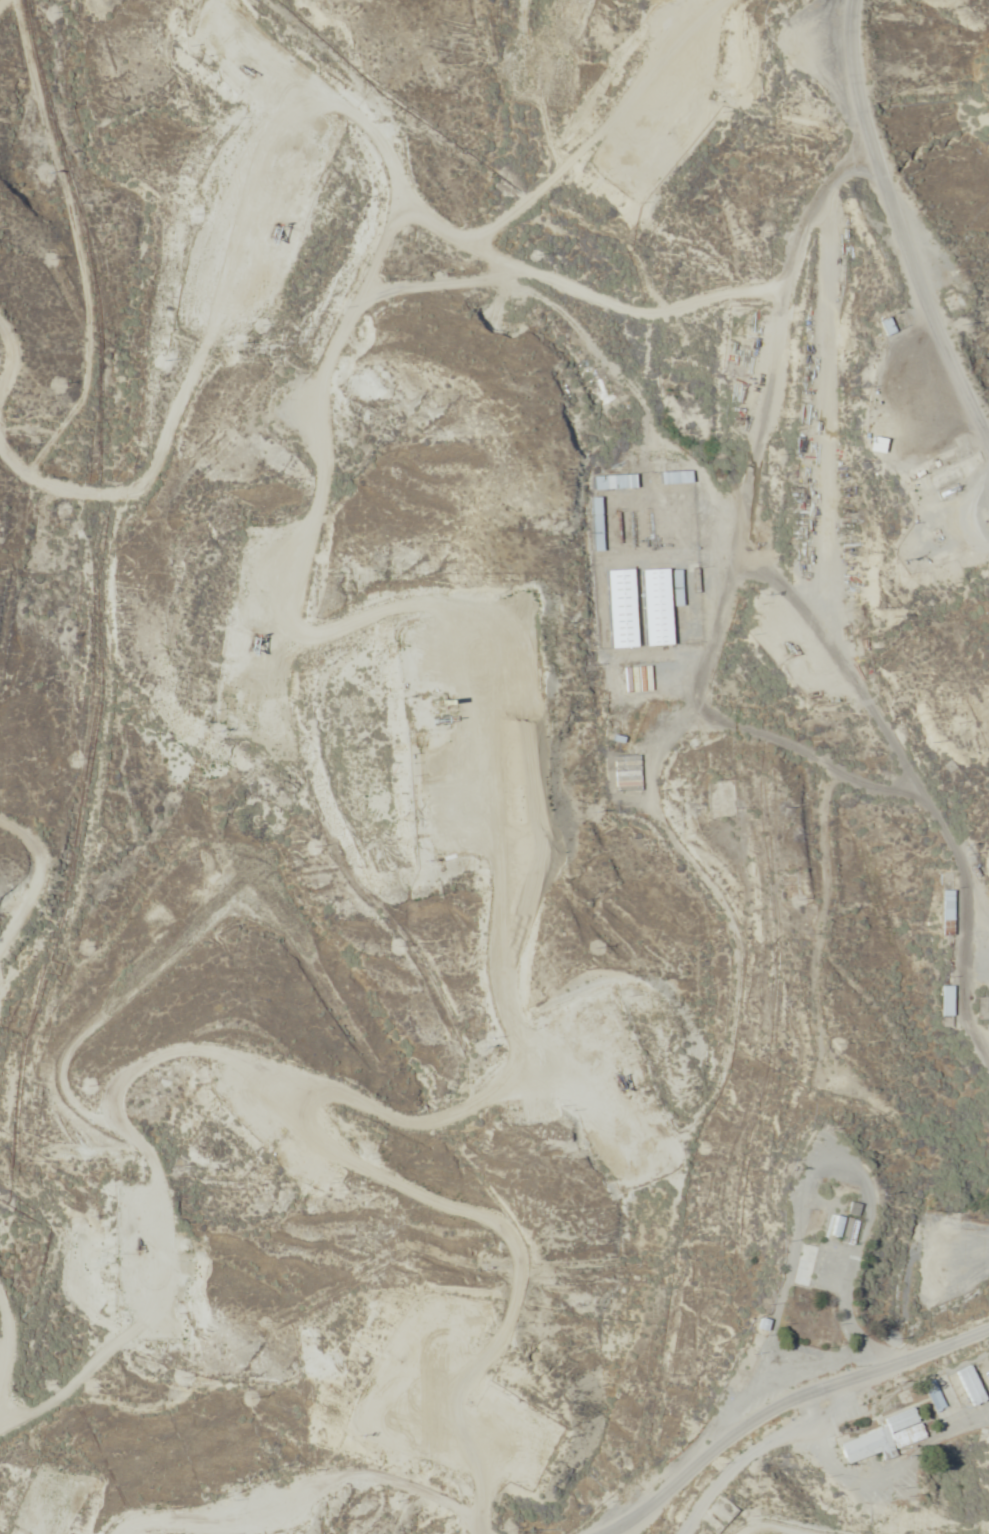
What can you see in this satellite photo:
road: (637, 154)
road: (899, 221)
building: (944, 280)
road: (296, 284)
building: (880, 326)
building: (869, 444)
building: (670, 477)
building: (611, 482)
building: (650, 607)
building: (616, 609)
road: (876, 669)
building: (626, 773)
building: (941, 913)
road: (11, 916)
building: (943, 1001)
road: (449, 1094)
building: (832, 1190)
building: (810, 1227)
building: (801, 1266)
road: (462, 1330)
building: (739, 1372)
building: (968, 1386)
building: (949, 1391)
building: (935, 1400)
road: (784, 1408)
building: (882, 1438)
road: (1, 1478)
road: (699, 1504)
road: (361, 1526)

